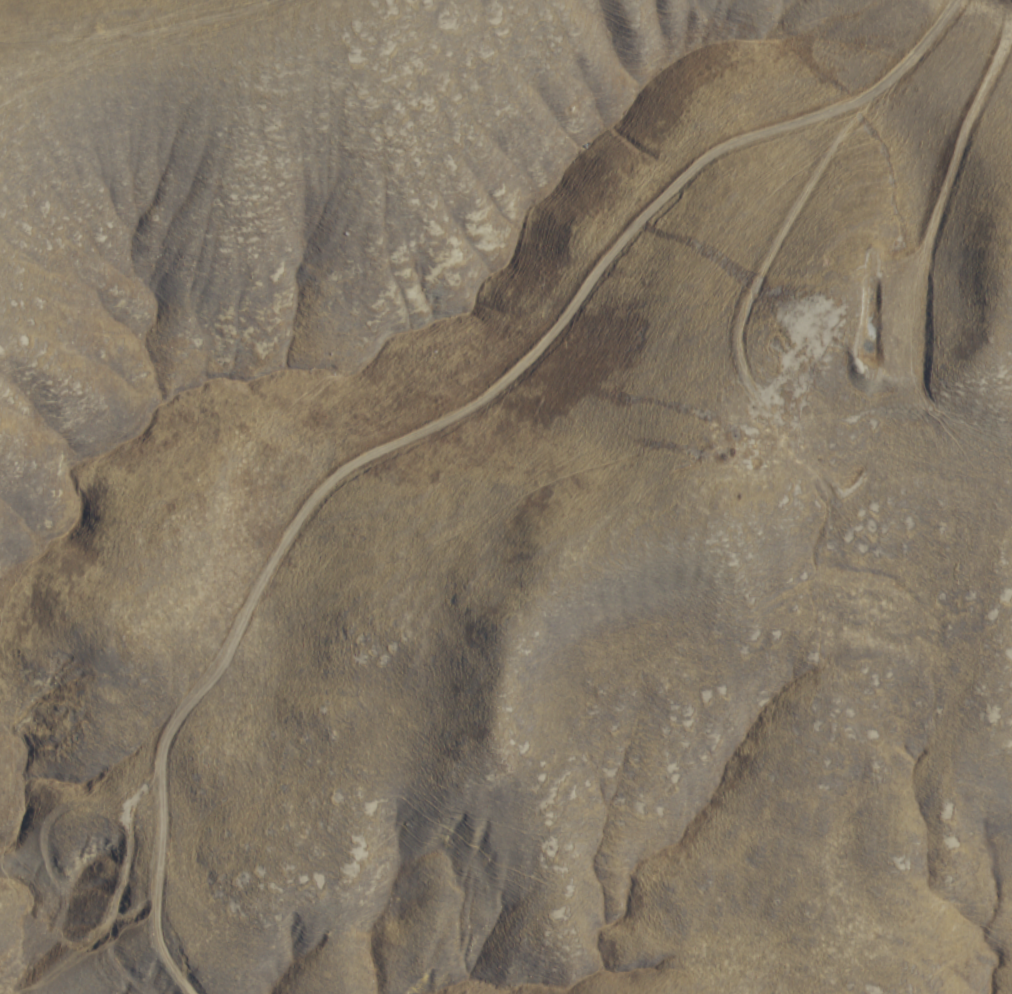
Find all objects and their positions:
road: (466, 449)

